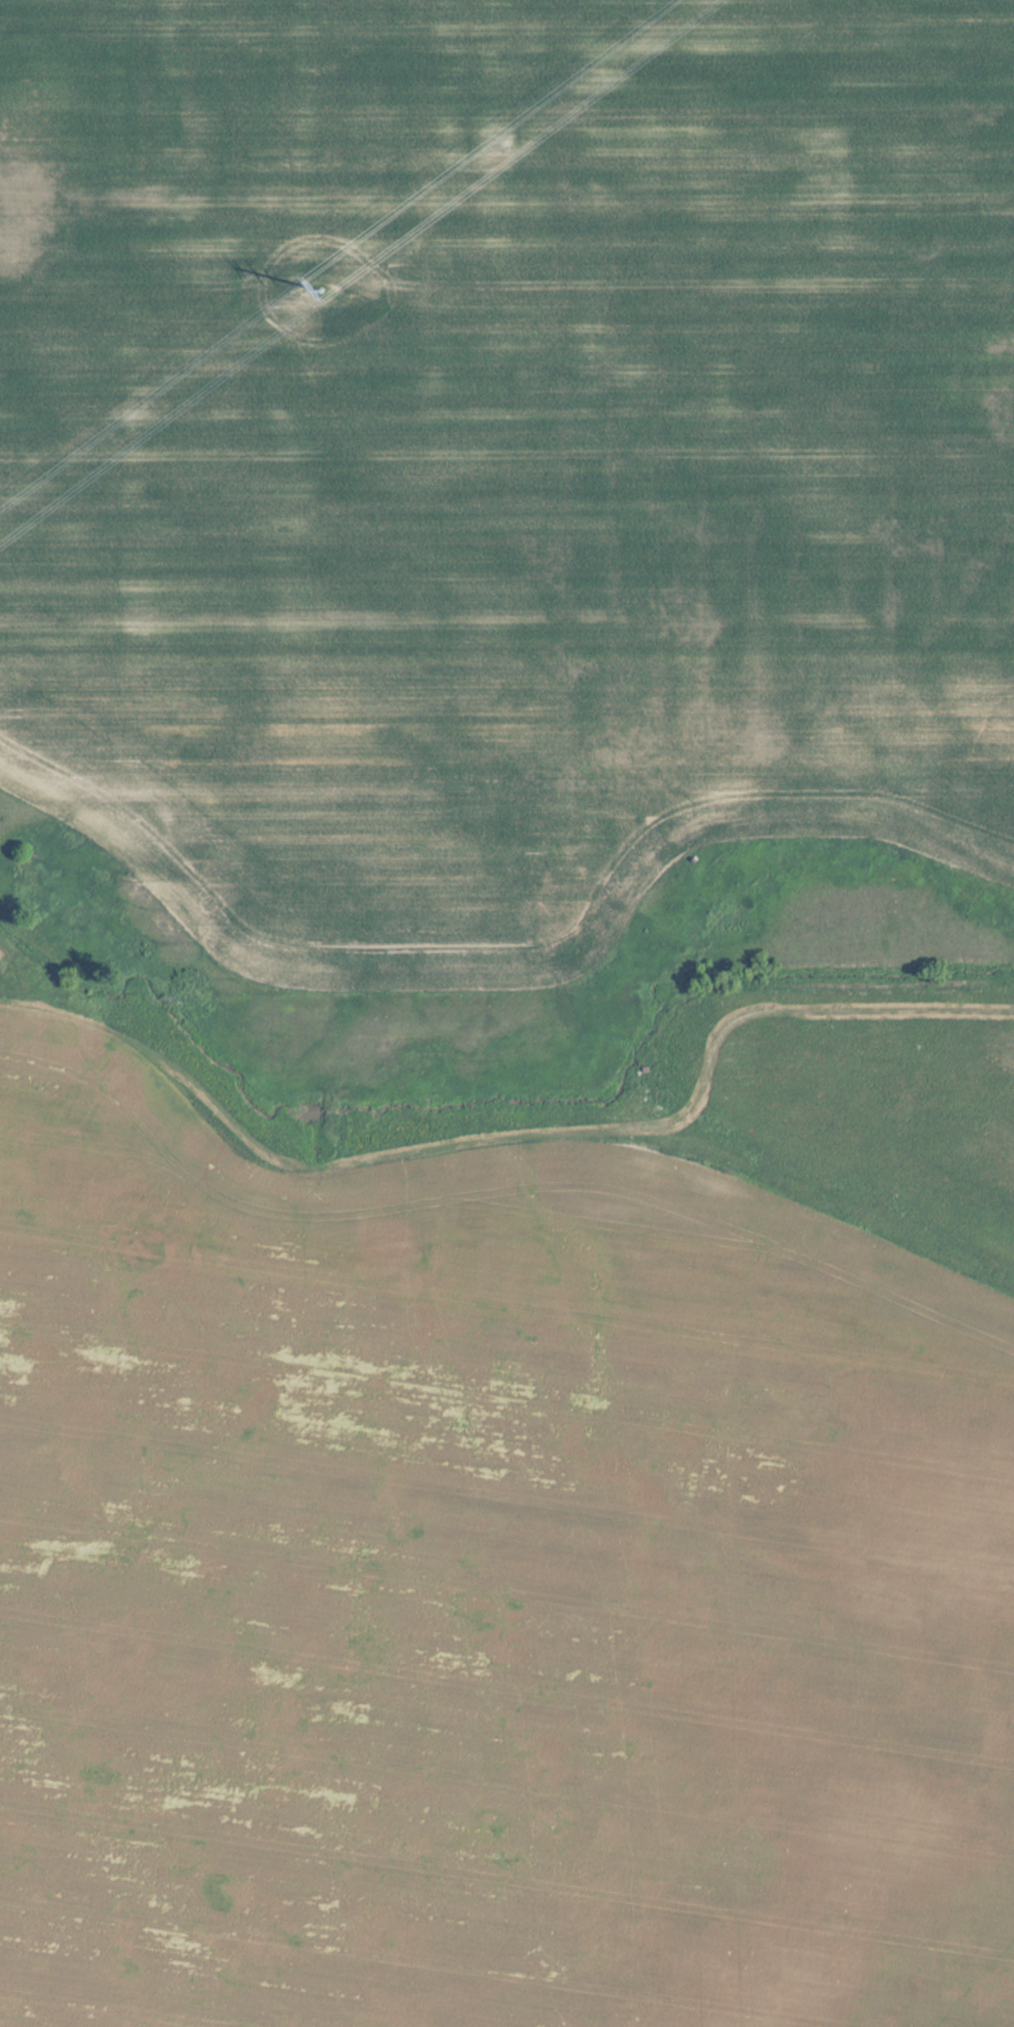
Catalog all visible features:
power tower: (323, 289)

